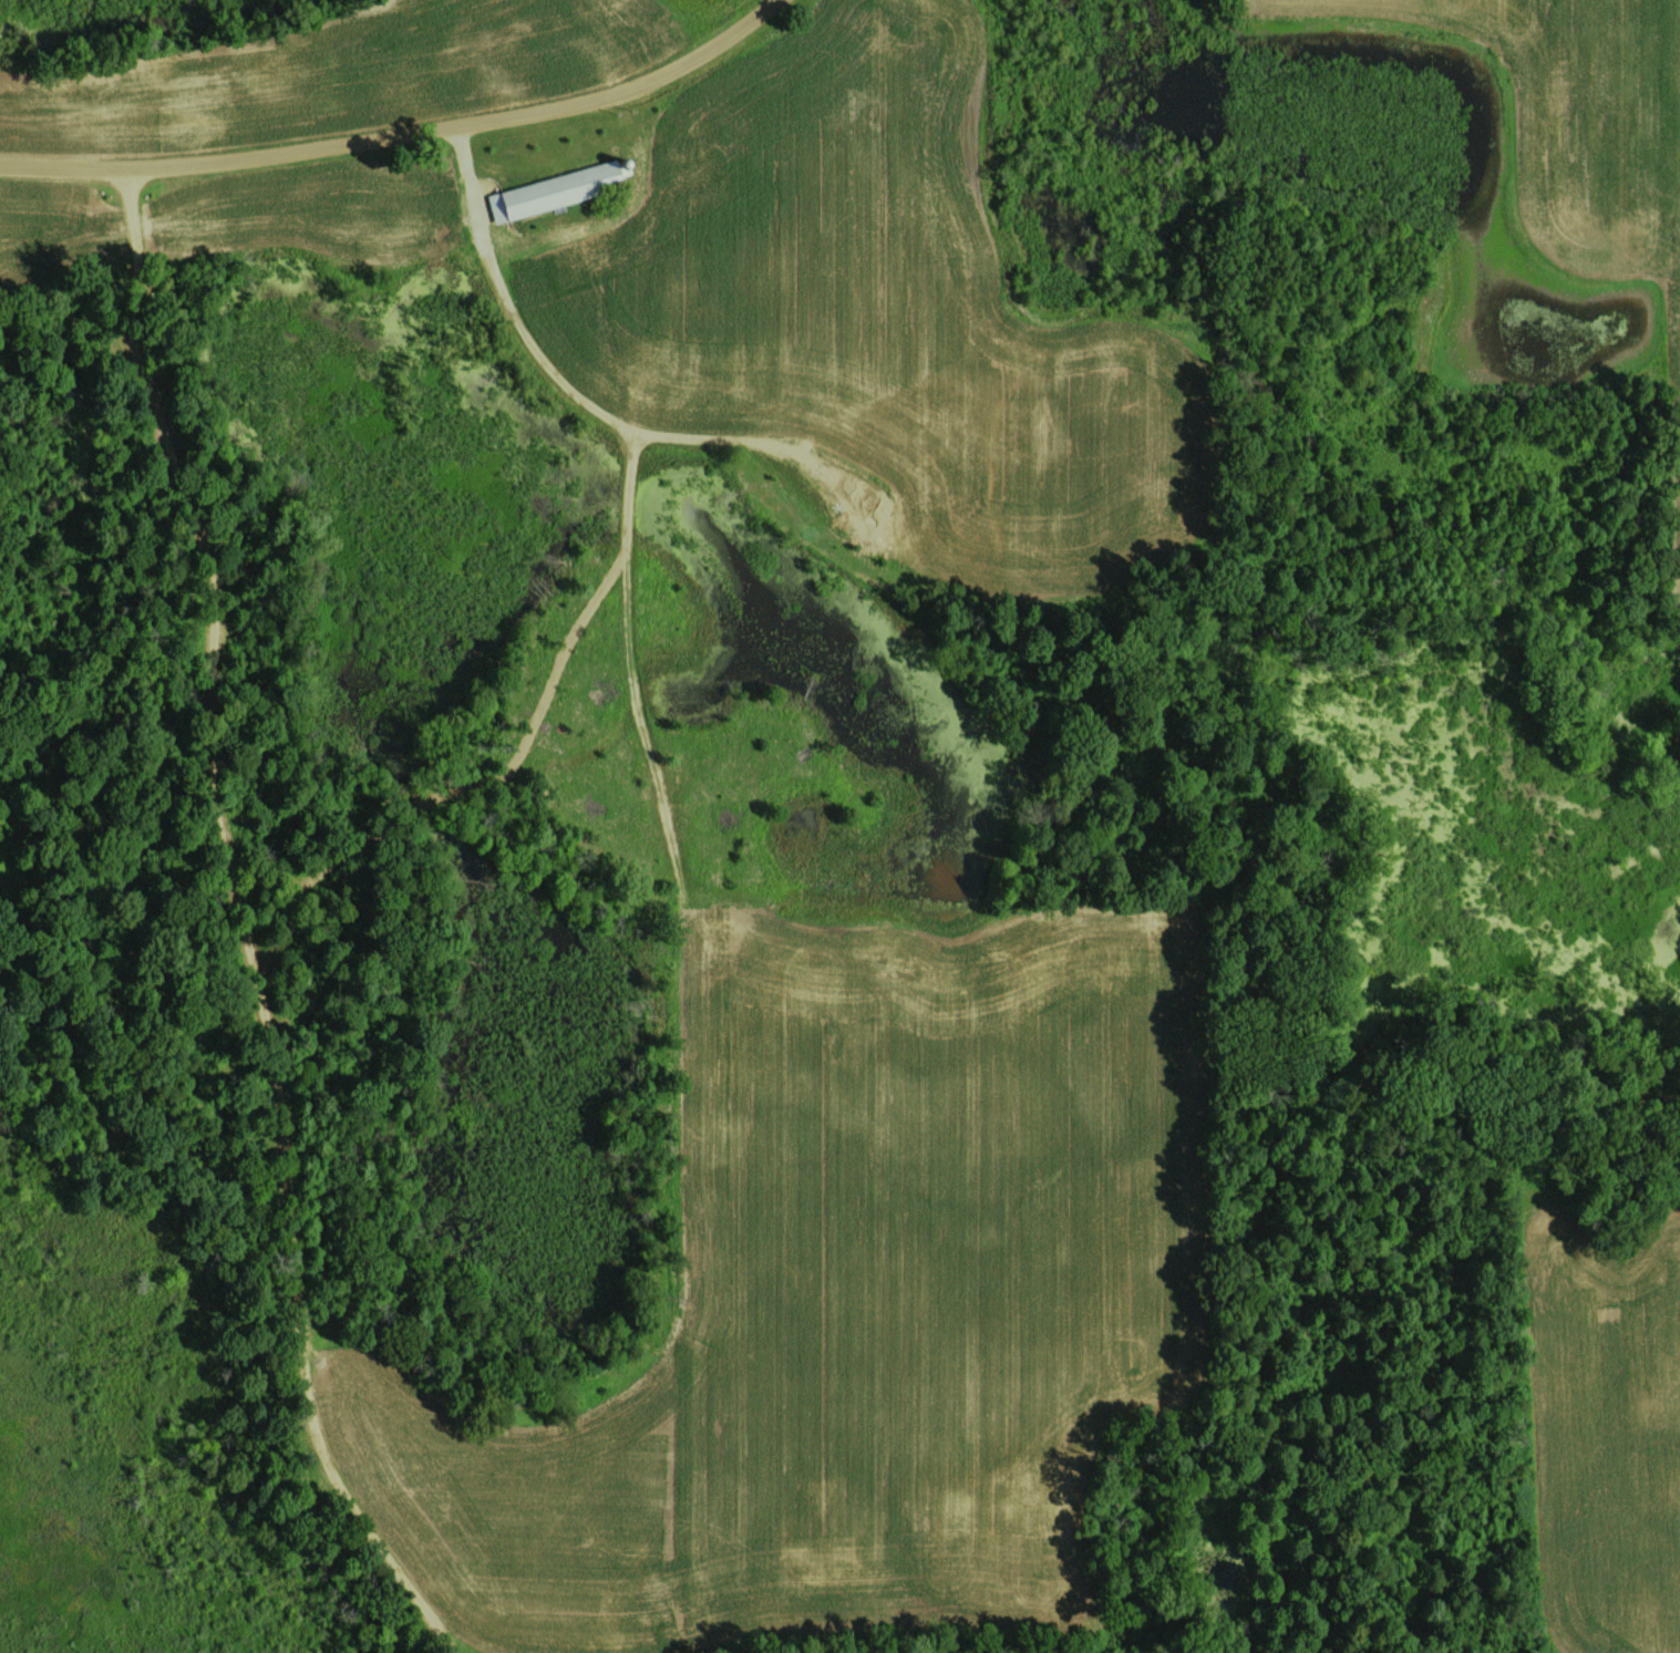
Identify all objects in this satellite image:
building: (492, 30)
road: (400, 132)
building: (552, 189)

